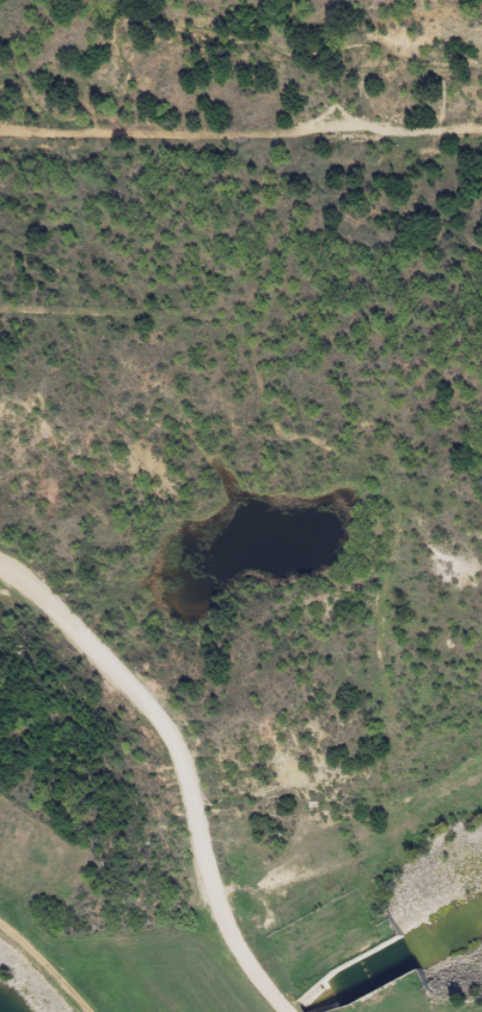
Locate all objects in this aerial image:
road: (182, 762)
road: (44, 967)
dam: (61, 967)

